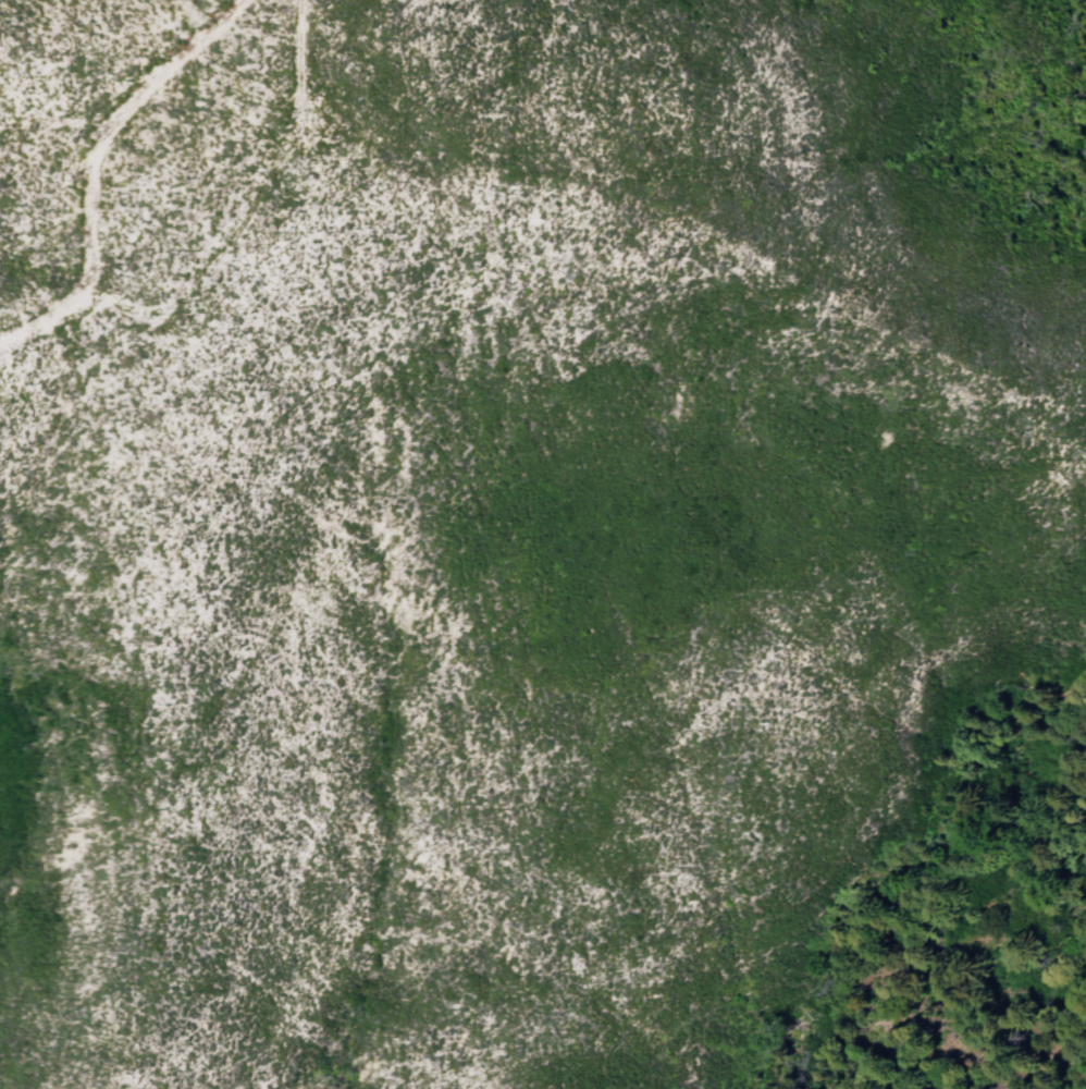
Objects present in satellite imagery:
road: (106, 134)
road: (223, 250)

